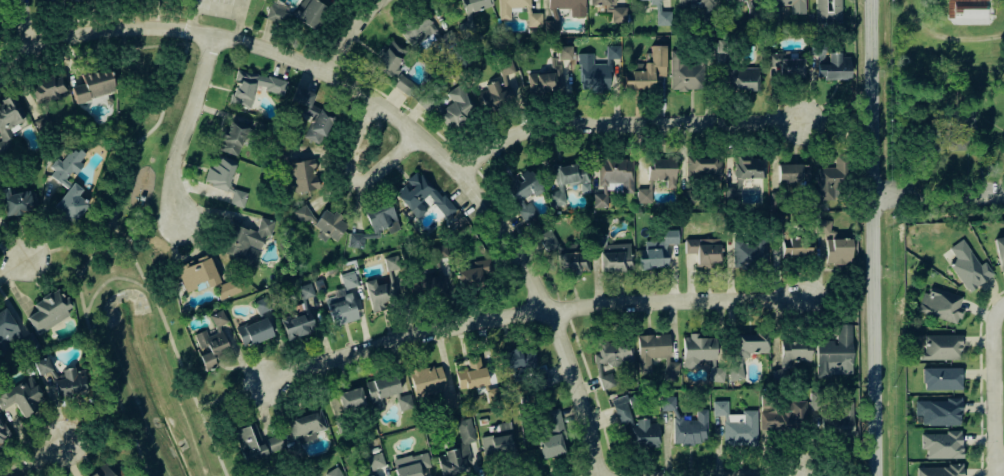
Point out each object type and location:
building: (65, 0)
building: (694, 3)
building: (792, 5)
building: (474, 7)
parking lot: (221, 8)
building: (612, 9)
building: (966, 9)
building: (749, 11)
building: (828, 11)
building: (278, 12)
park: (225, 13)
building: (310, 13)
building: (504, 13)
building: (577, 13)
building: (660, 13)
road: (243, 20)
building: (534, 20)
road: (31, 23)
road: (104, 29)
building: (419, 31)
road: (943, 31)
road: (354, 35)
road: (275, 51)
building: (390, 58)
building: (787, 64)
building: (833, 67)
building: (596, 70)
building: (645, 70)
building: (685, 72)
building: (740, 78)
building: (543, 82)
building: (403, 84)
building: (93, 85)
building: (252, 86)
building: (499, 88)
building: (48, 90)
road: (376, 102)
building: (452, 107)
road: (408, 109)
building: (312, 115)
building: (9, 121)
road: (623, 123)
road: (187, 124)
building: (958, 133)
building: (233, 138)
road: (439, 153)
road: (129, 154)
building: (703, 167)
building: (747, 167)
building: (219, 172)
building: (793, 173)
building: (615, 174)
building: (303, 175)
building: (657, 176)
building: (832, 177)
road: (352, 181)
building: (568, 181)
building: (68, 185)
building: (734, 192)
building: (523, 193)
road: (939, 193)
building: (421, 196)
building: (238, 198)
building: (601, 199)
building: (15, 202)
building: (321, 221)
building: (375, 223)
road: (145, 227)
road: (875, 237)
building: (247, 240)
building: (548, 240)
building: (834, 245)
building: (657, 250)
building: (440, 251)
building: (999, 251)
building: (704, 252)
building: (750, 252)
building: (613, 255)
building: (572, 261)
building: (392, 262)
road: (25, 263)
building: (968, 266)
building: (196, 273)
building: (475, 274)
road: (105, 279)
park: (146, 284)
building: (319, 285)
building: (428, 285)
building: (227, 289)
building: (306, 290)
building: (382, 294)
building: (343, 301)
building: (262, 304)
building: (941, 304)
road: (1003, 306)
building: (48, 311)
road: (532, 312)
road: (550, 314)
building: (297, 324)
building: (253, 331)
building: (213, 340)
road: (172, 347)
building: (940, 347)
building: (697, 350)
building: (746, 350)
street lamp: (1000, 350)
building: (612, 352)
building: (835, 352)
building: (655, 353)
road: (96, 359)
building: (524, 365)
building: (716, 373)
building: (471, 374)
building: (61, 376)
building: (939, 377)
road: (980, 378)
building: (606, 380)
building: (426, 381)
building: (380, 389)
road: (993, 390)
building: (23, 396)
road: (230, 396)
building: (350, 399)
building: (404, 401)
building: (621, 408)
building: (937, 412)
building: (786, 417)
building: (553, 420)
building: (842, 421)
building: (737, 424)
building: (306, 425)
building: (688, 425)
building: (4, 432)
building: (643, 433)
building: (497, 442)
building: (255, 443)
building: (942, 444)
building: (550, 445)
building: (457, 451)
road: (49, 453)
street lamp: (987, 457)
building: (375, 460)
building: (410, 464)
road: (999, 467)
building: (939, 470)
building: (103, 471)
building: (333, 472)
building: (373, 475)
road: (740, 475)

